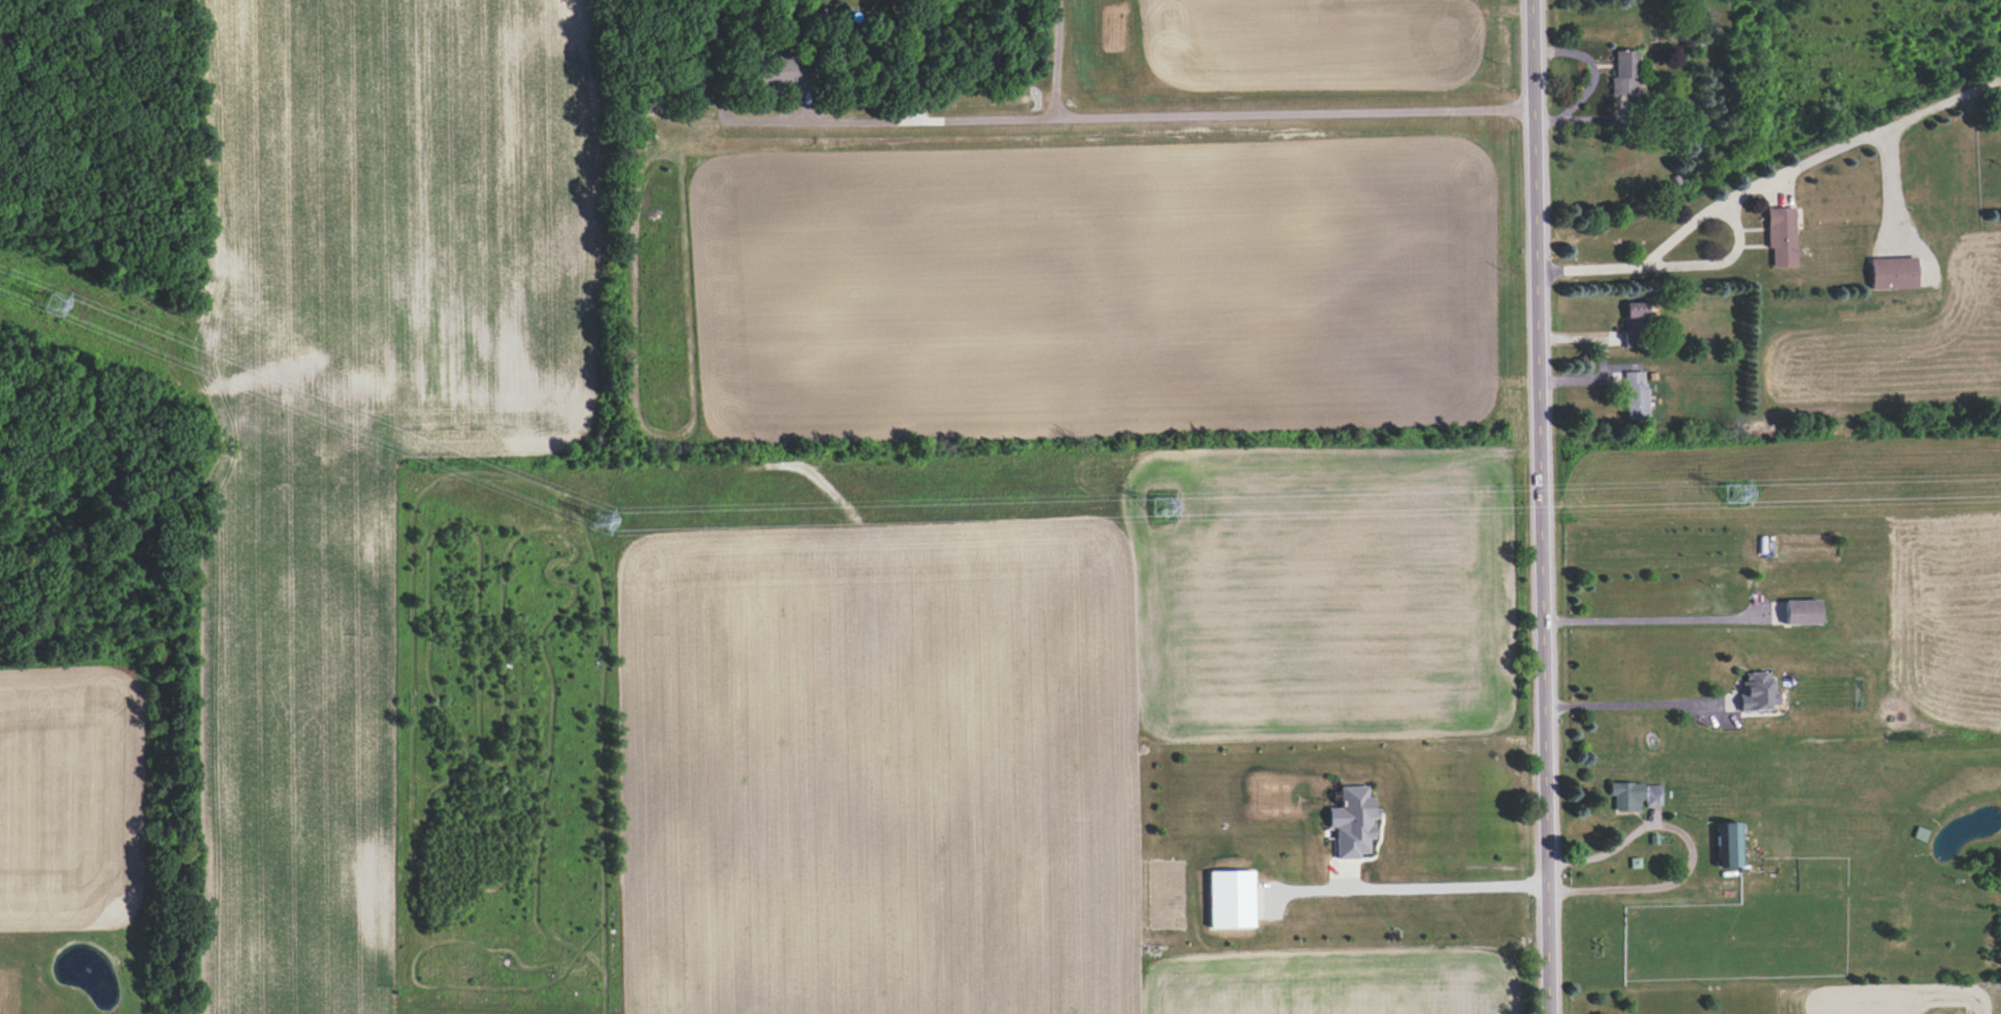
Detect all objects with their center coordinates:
road: (1055, 59)
road: (914, 60)
building: (786, 71)
building: (1623, 73)
road: (1593, 79)
road: (1165, 117)
road: (1735, 191)
building: (1780, 236)
building: (1892, 273)
building: (1633, 324)
building: (1635, 396)
road: (1539, 507)
building: (1801, 612)
road: (1651, 619)
building: (1757, 691)
road: (1623, 704)
building: (1652, 795)
building: (1625, 796)
building: (1351, 822)
building: (1919, 834)
building: (1728, 845)
road: (1689, 850)
road: (1428, 888)
building: (1230, 899)

